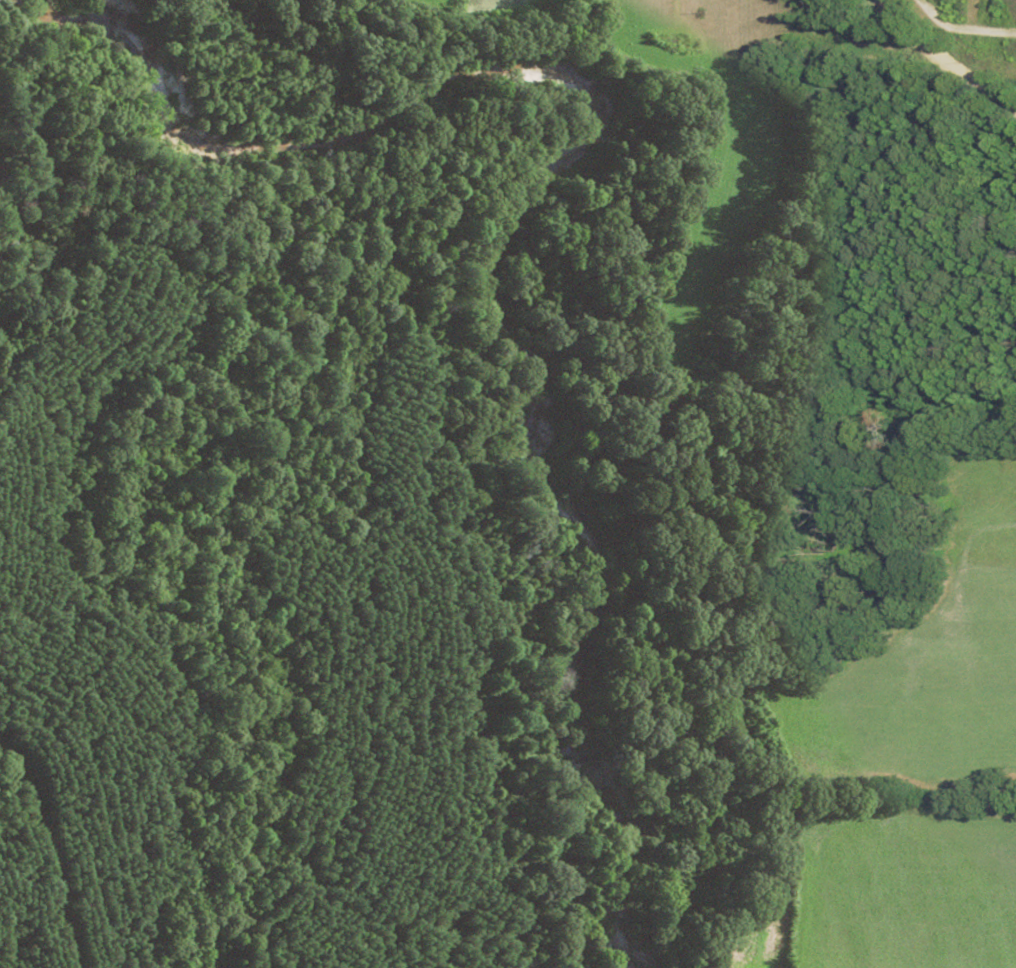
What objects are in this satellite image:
road: (946, 59)

